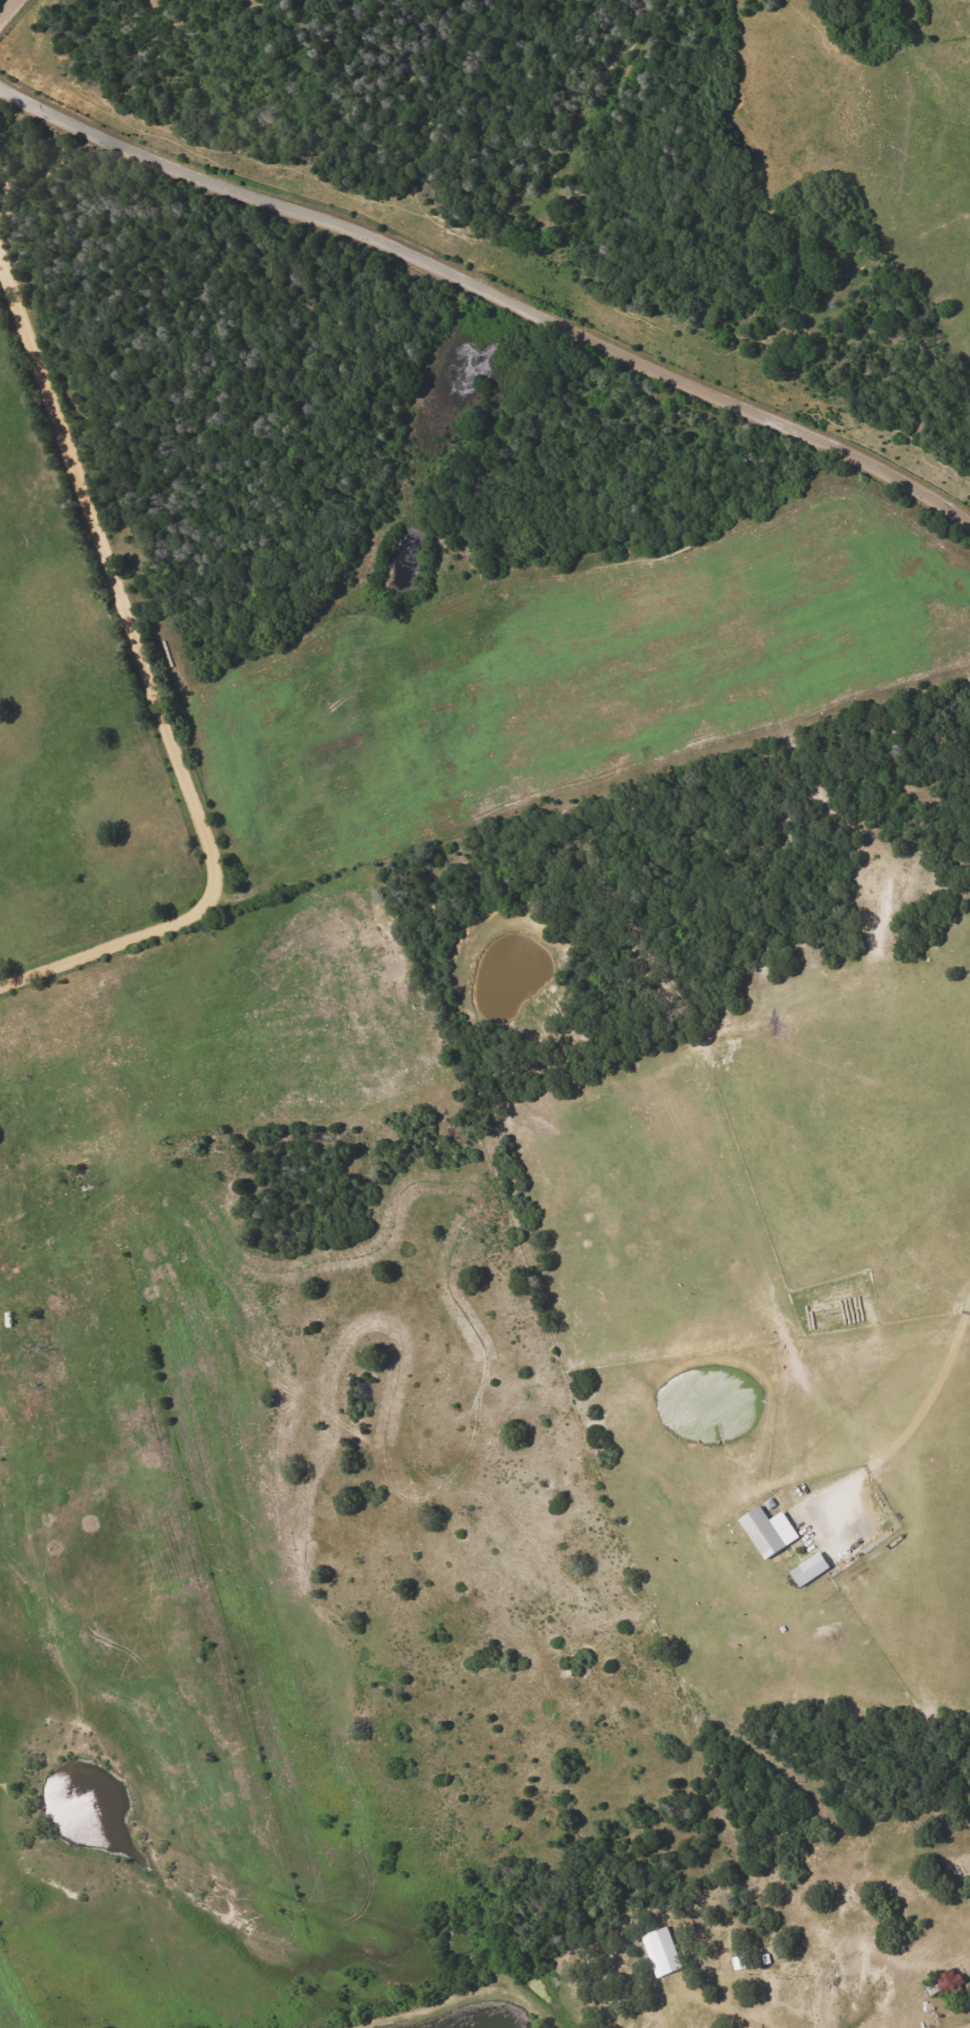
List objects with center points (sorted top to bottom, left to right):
road: (8, 8)
road: (490, 296)
road: (152, 691)
road: (933, 1395)
building: (766, 1531)
building: (807, 1569)
building: (660, 1952)
road: (712, 2009)

